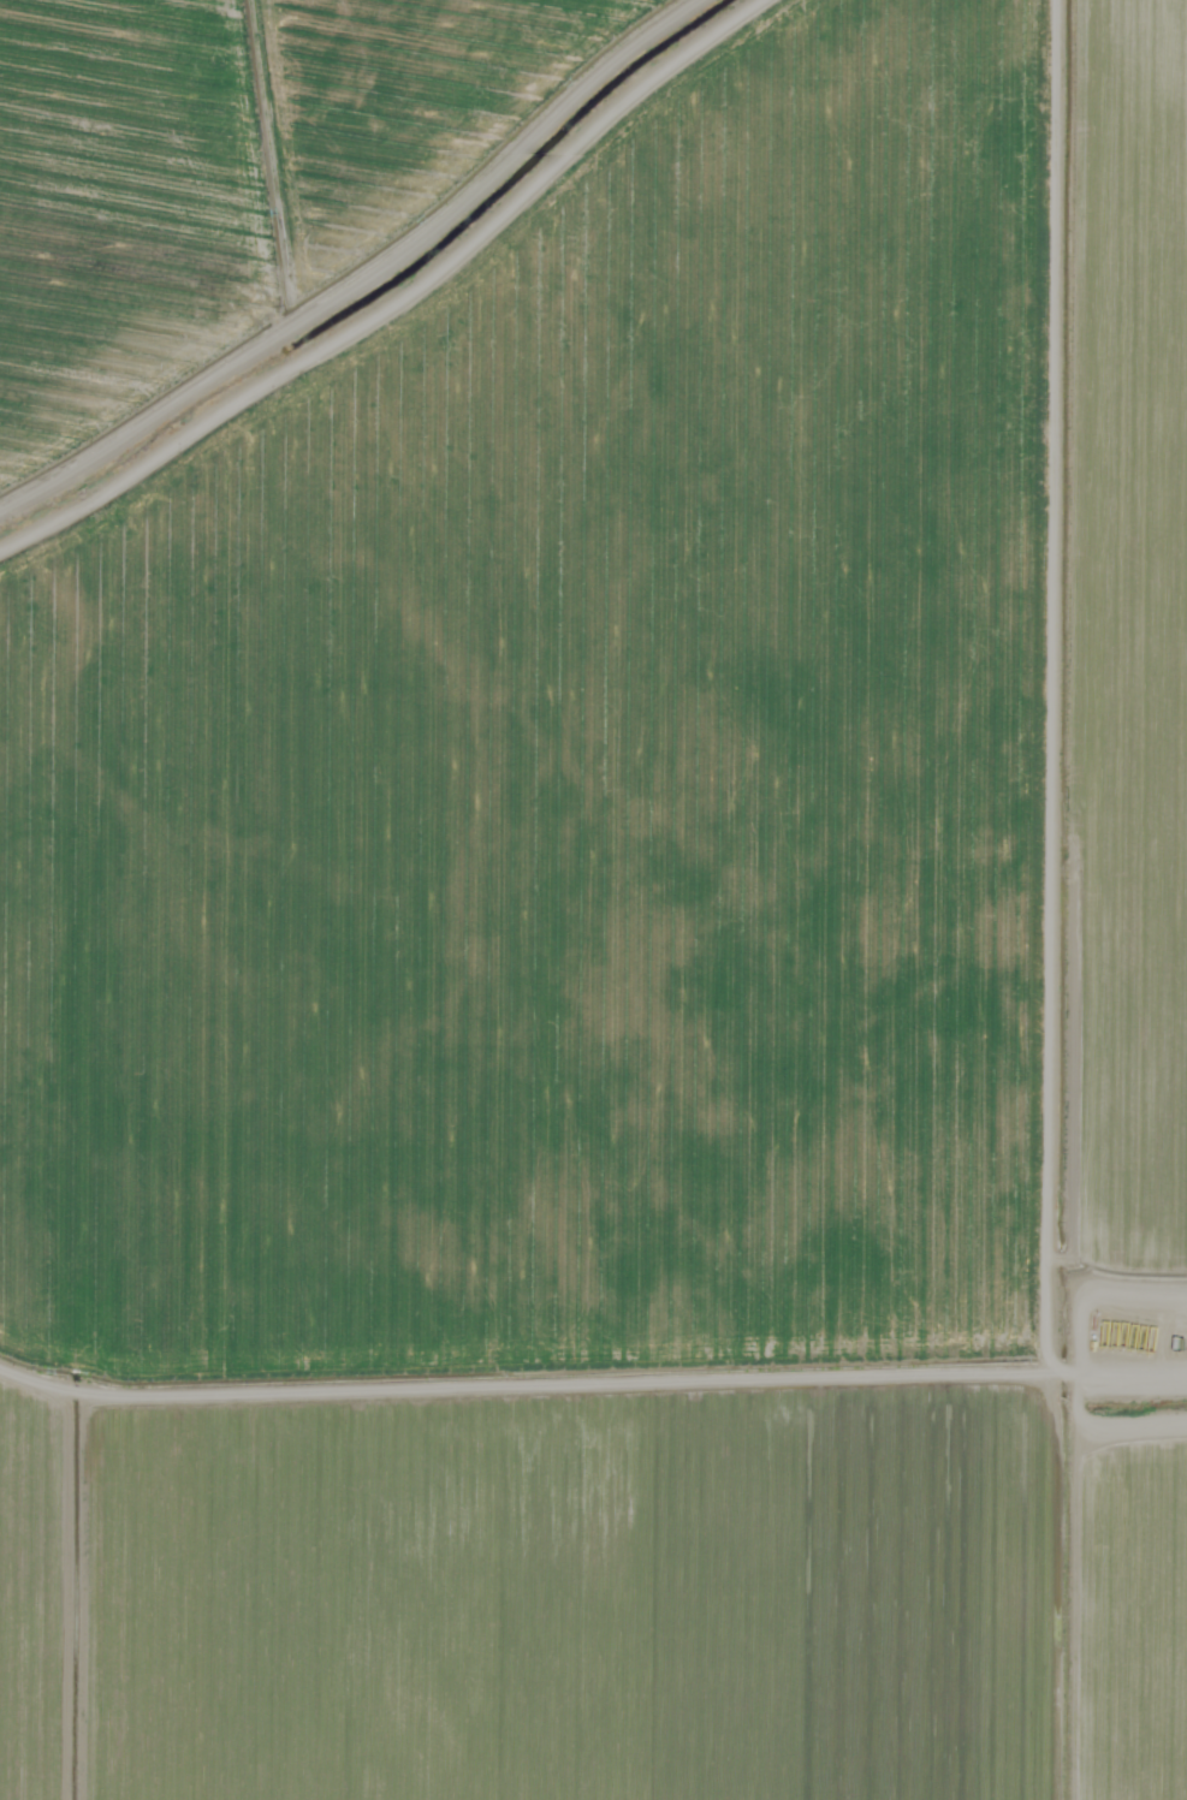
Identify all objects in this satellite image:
crop: (593, 671)
road: (593, 1383)
crop: (594, 1600)

